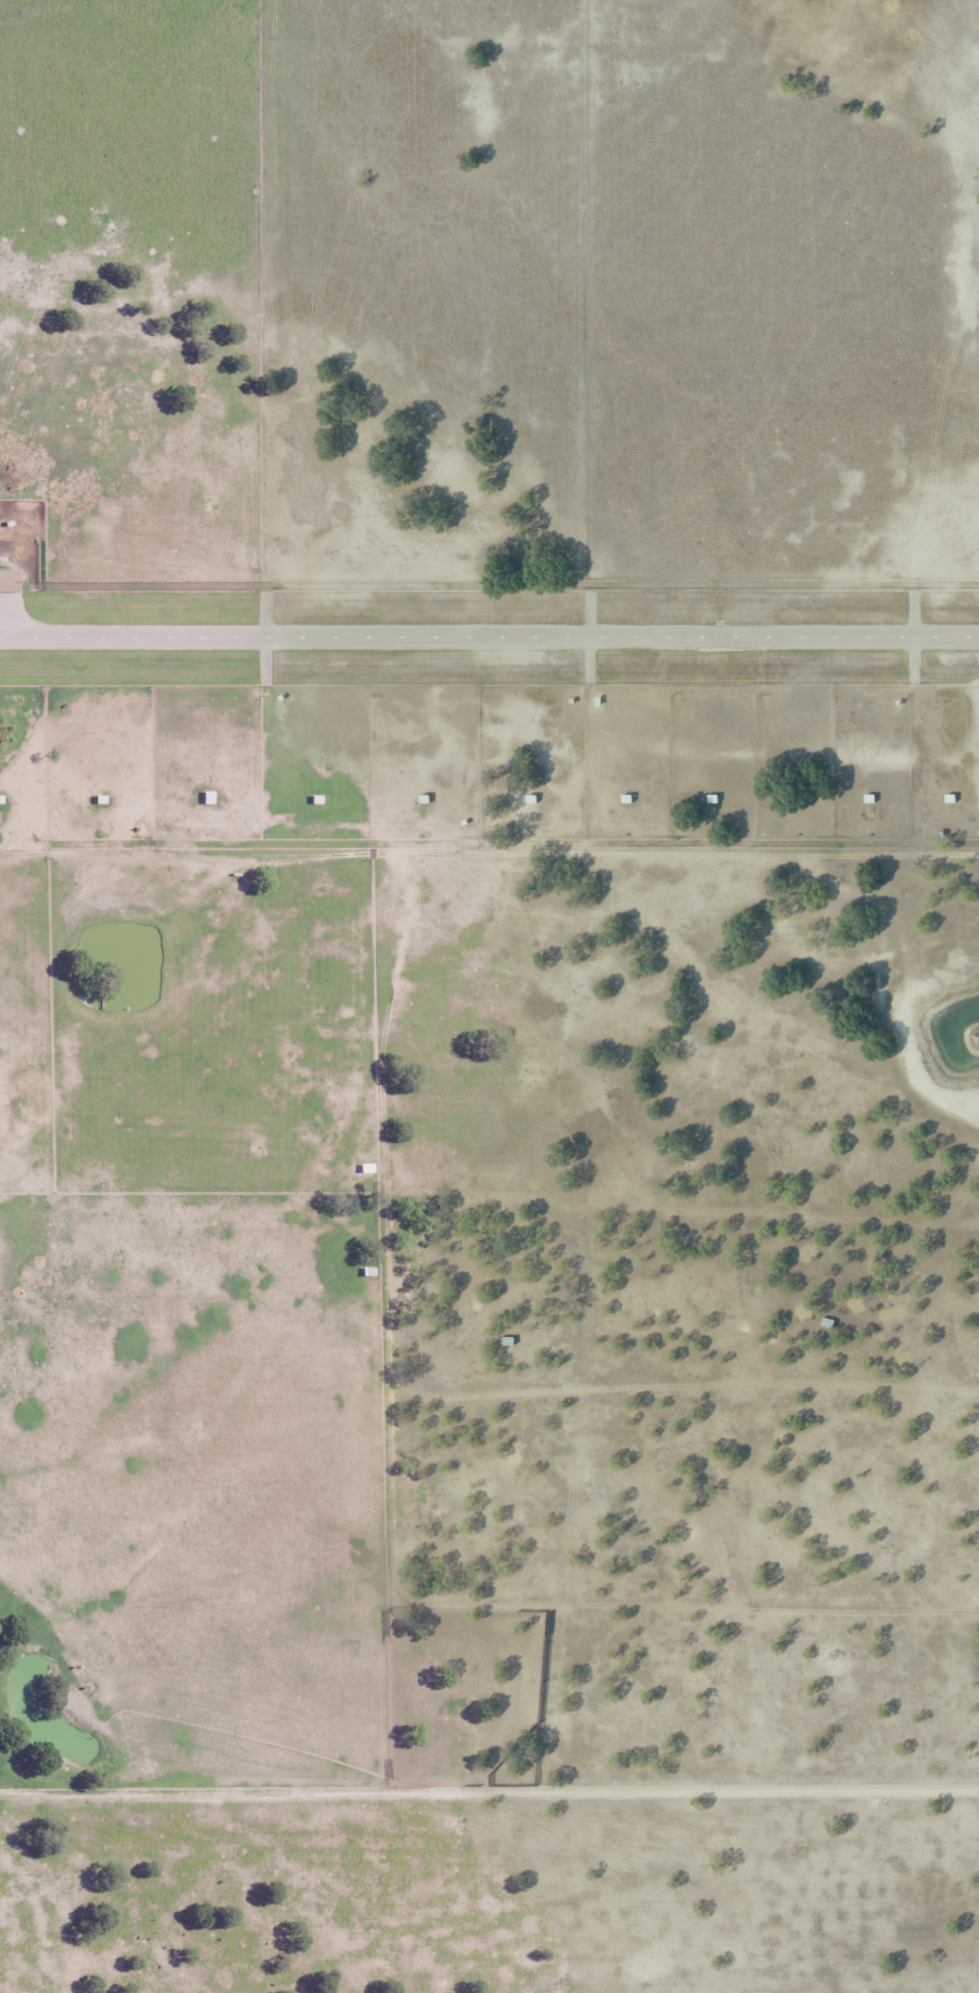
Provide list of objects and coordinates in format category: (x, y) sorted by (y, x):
building: (9, 581)
airport runway: (489, 637)
road: (489, 637)

